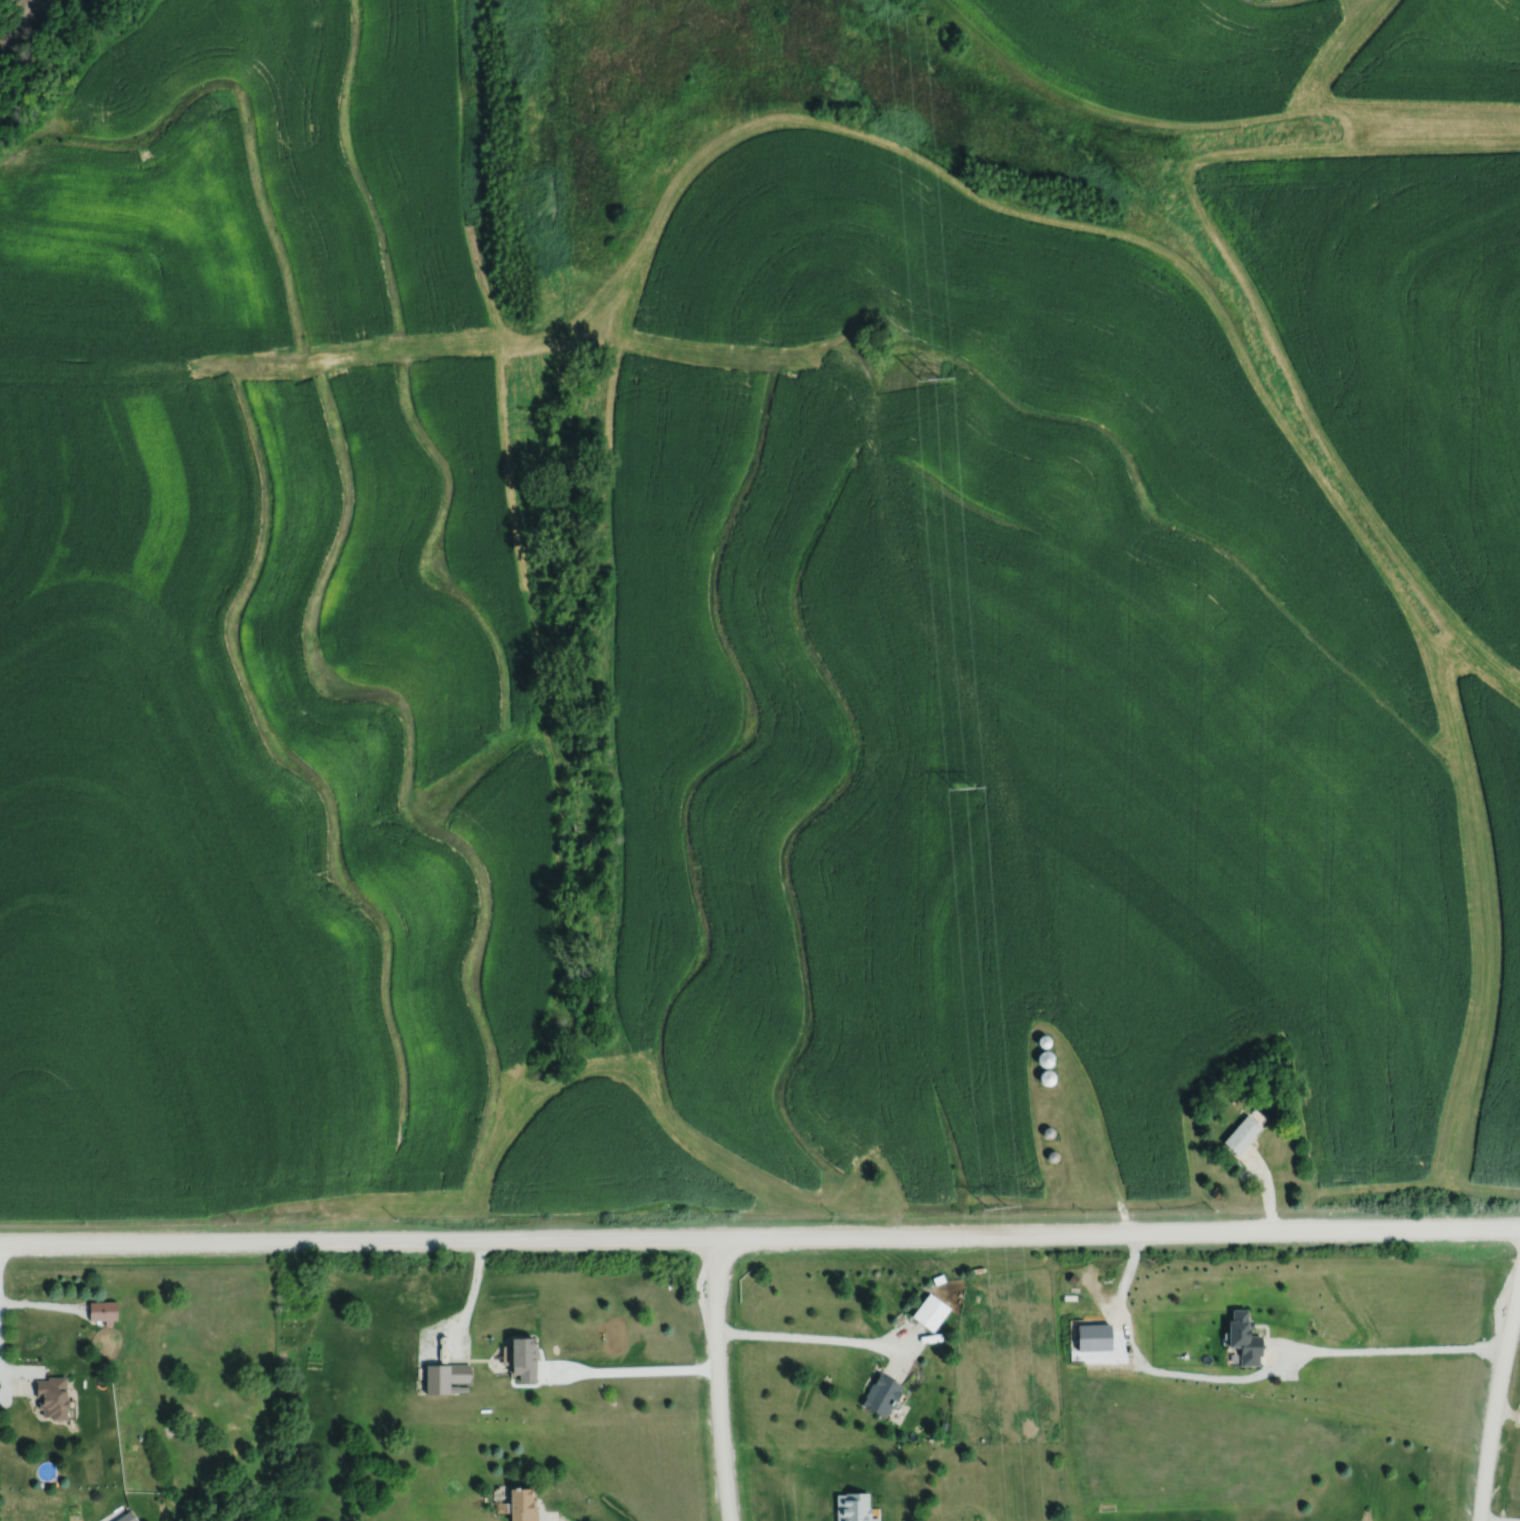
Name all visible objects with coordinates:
railway: (18, 19)
road: (95, 21)
power tower: (937, 380)
power tower: (966, 788)
building: (1042, 1040)
building: (1043, 1057)
building: (1045, 1076)
building: (1047, 1131)
building: (1243, 1131)
building: (1051, 1155)
road: (1266, 1187)
power tower: (1002, 1206)
road: (760, 1235)
road: (41, 1304)
building: (930, 1308)
road: (464, 1311)
building: (101, 1312)
road: (817, 1337)
building: (1242, 1339)
road: (1386, 1349)
building: (522, 1359)
road: (629, 1370)
road: (22, 1372)
building: (444, 1377)
road: (717, 1378)
building: (881, 1392)
building: (50, 1398)
road: (1495, 1401)
road: (1507, 1412)
building: (943, 1424)
building: (523, 1503)
building: (853, 1506)
road: (962, 1506)
building: (125, 1516)
road: (1500, 1519)
building: (1200, 1520)

